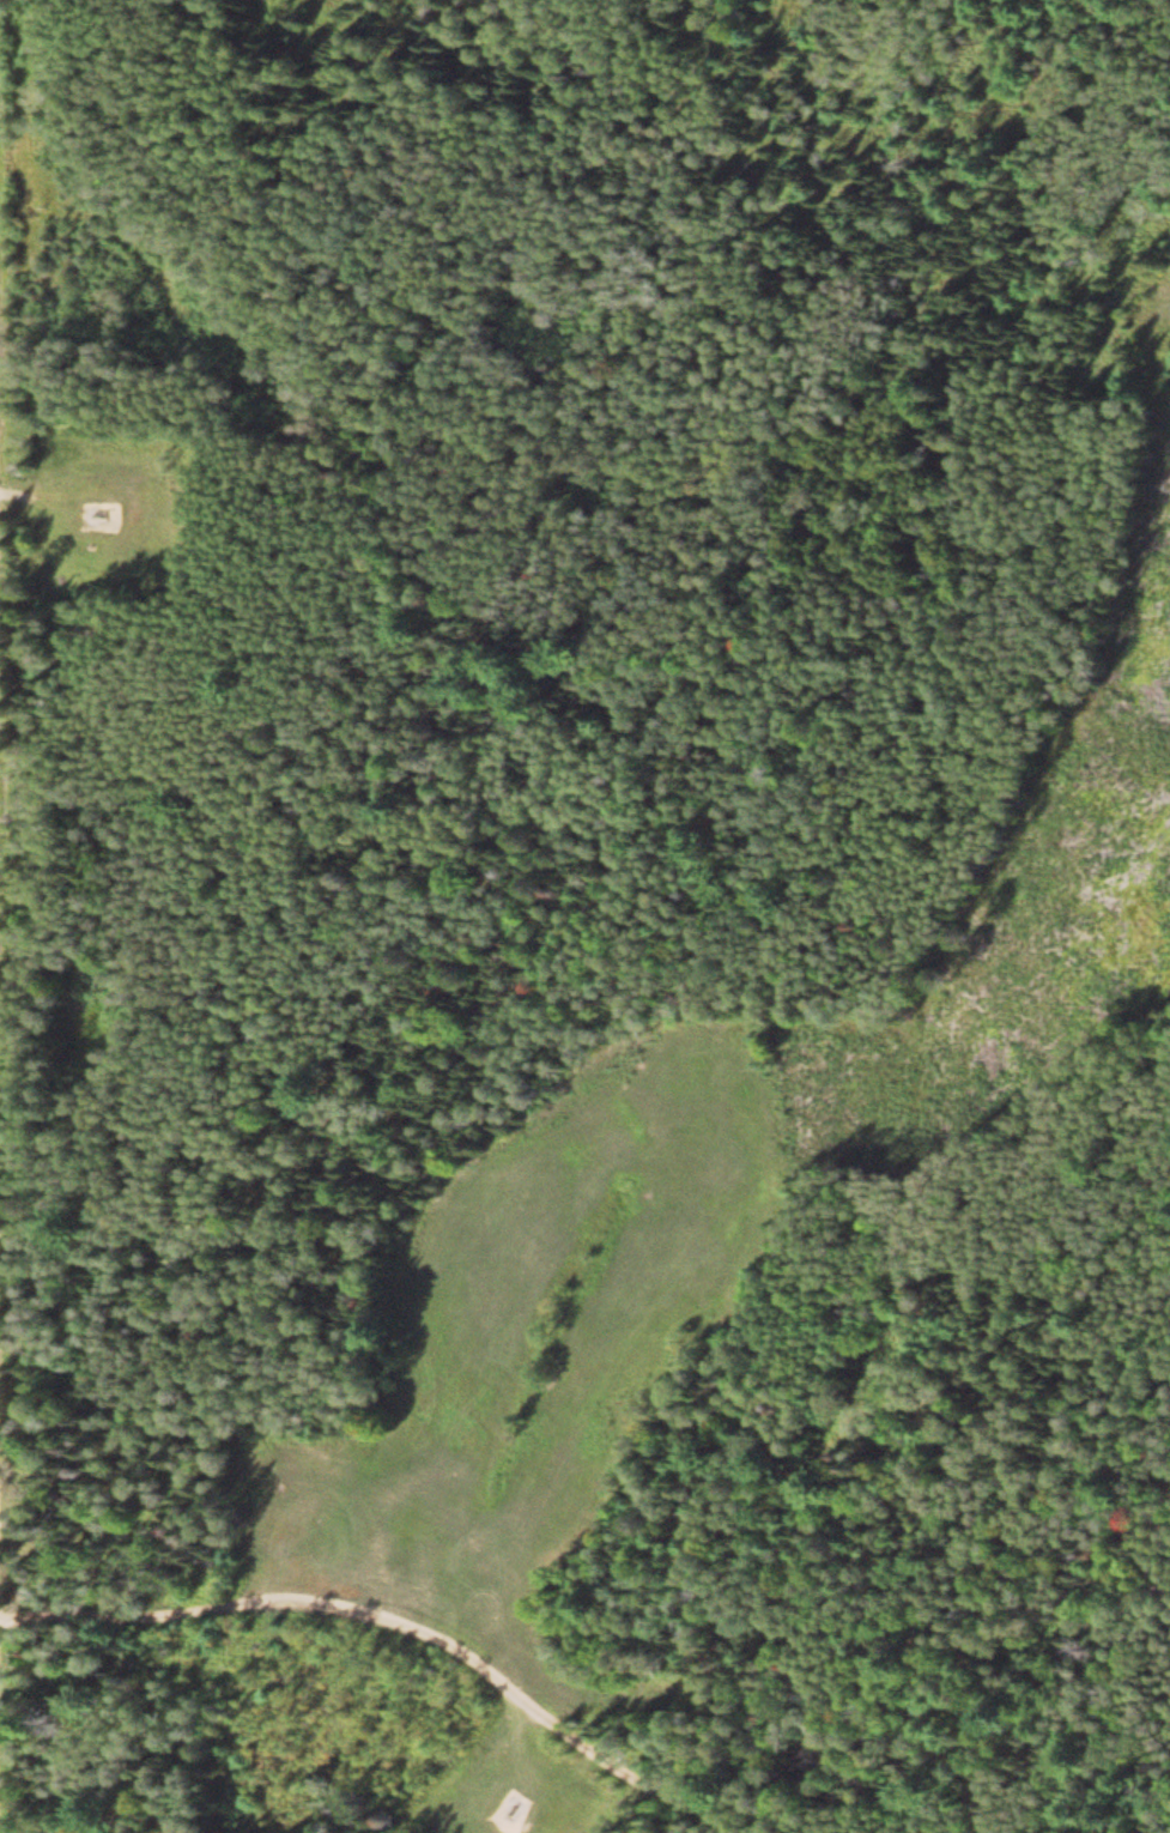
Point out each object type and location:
petroleum well: (98, 516)
petroleum well: (508, 1813)

